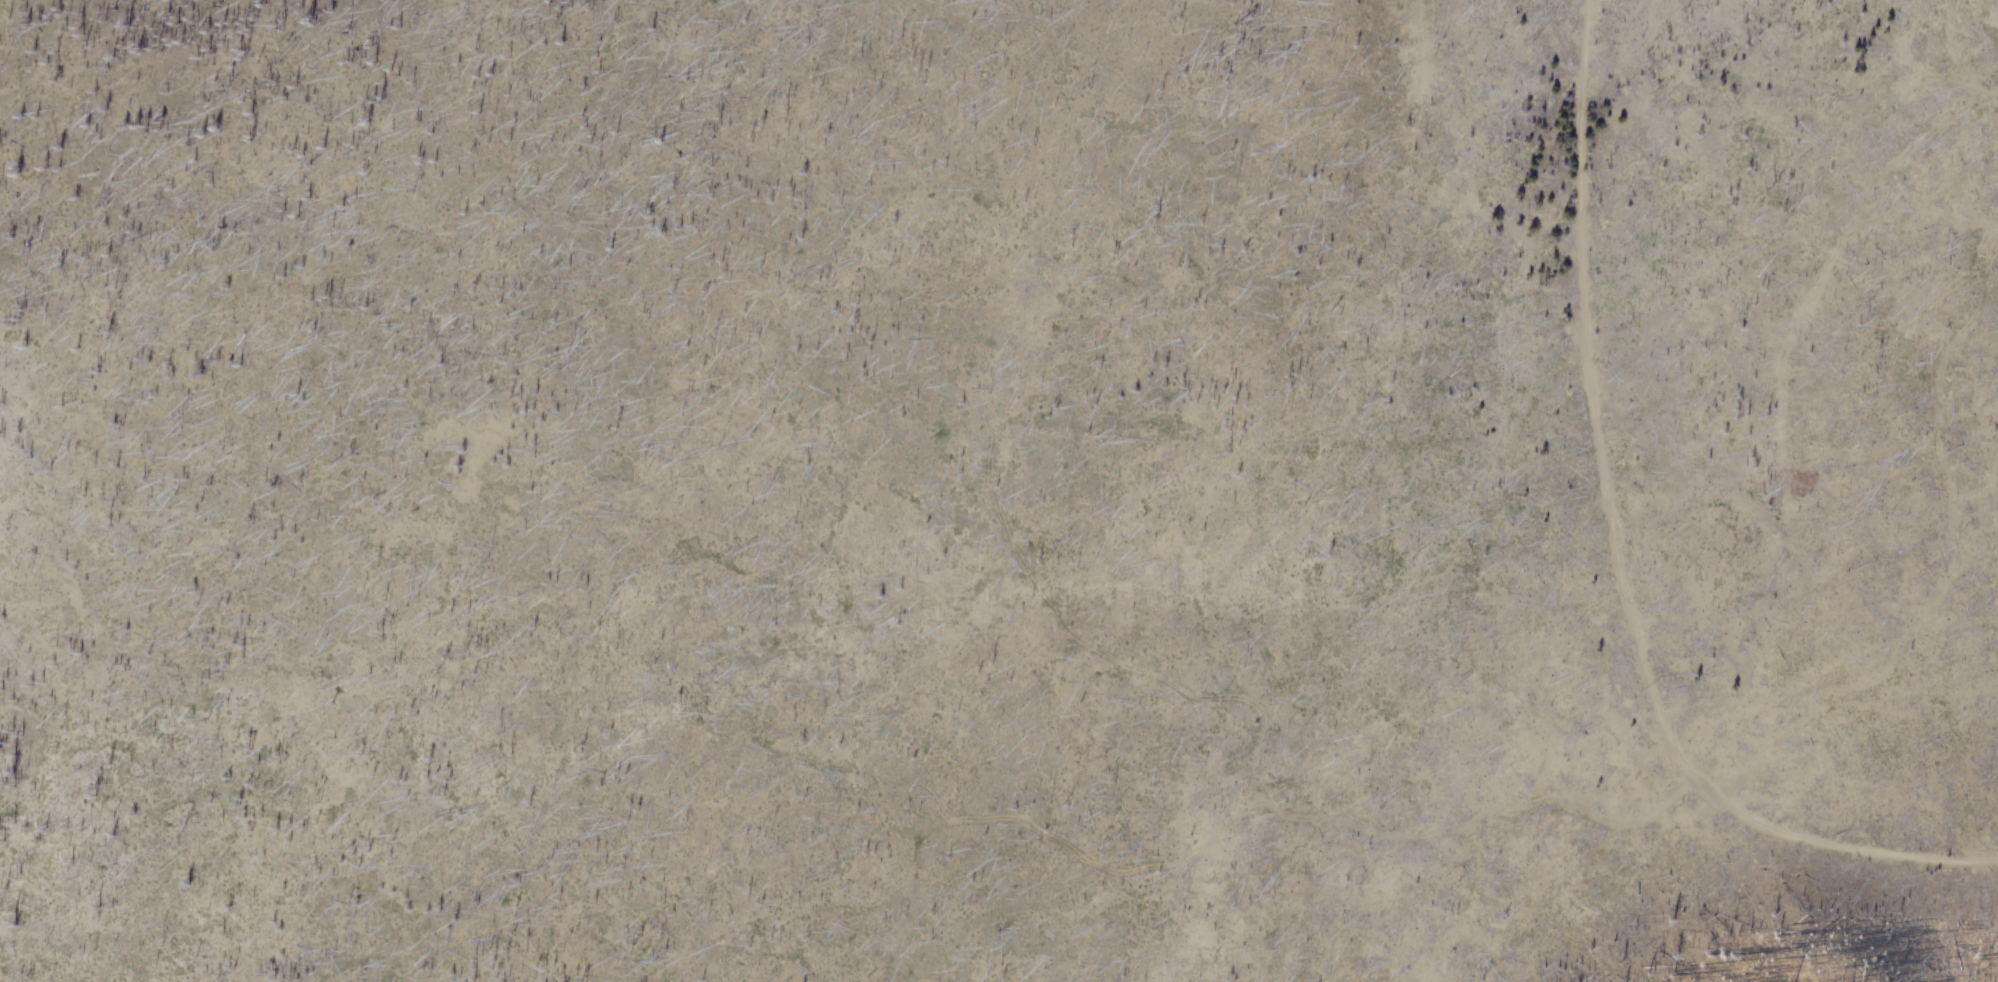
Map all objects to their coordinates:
road: (1954, 553)
road: (1617, 558)
road: (1220, 696)
road: (1097, 869)

